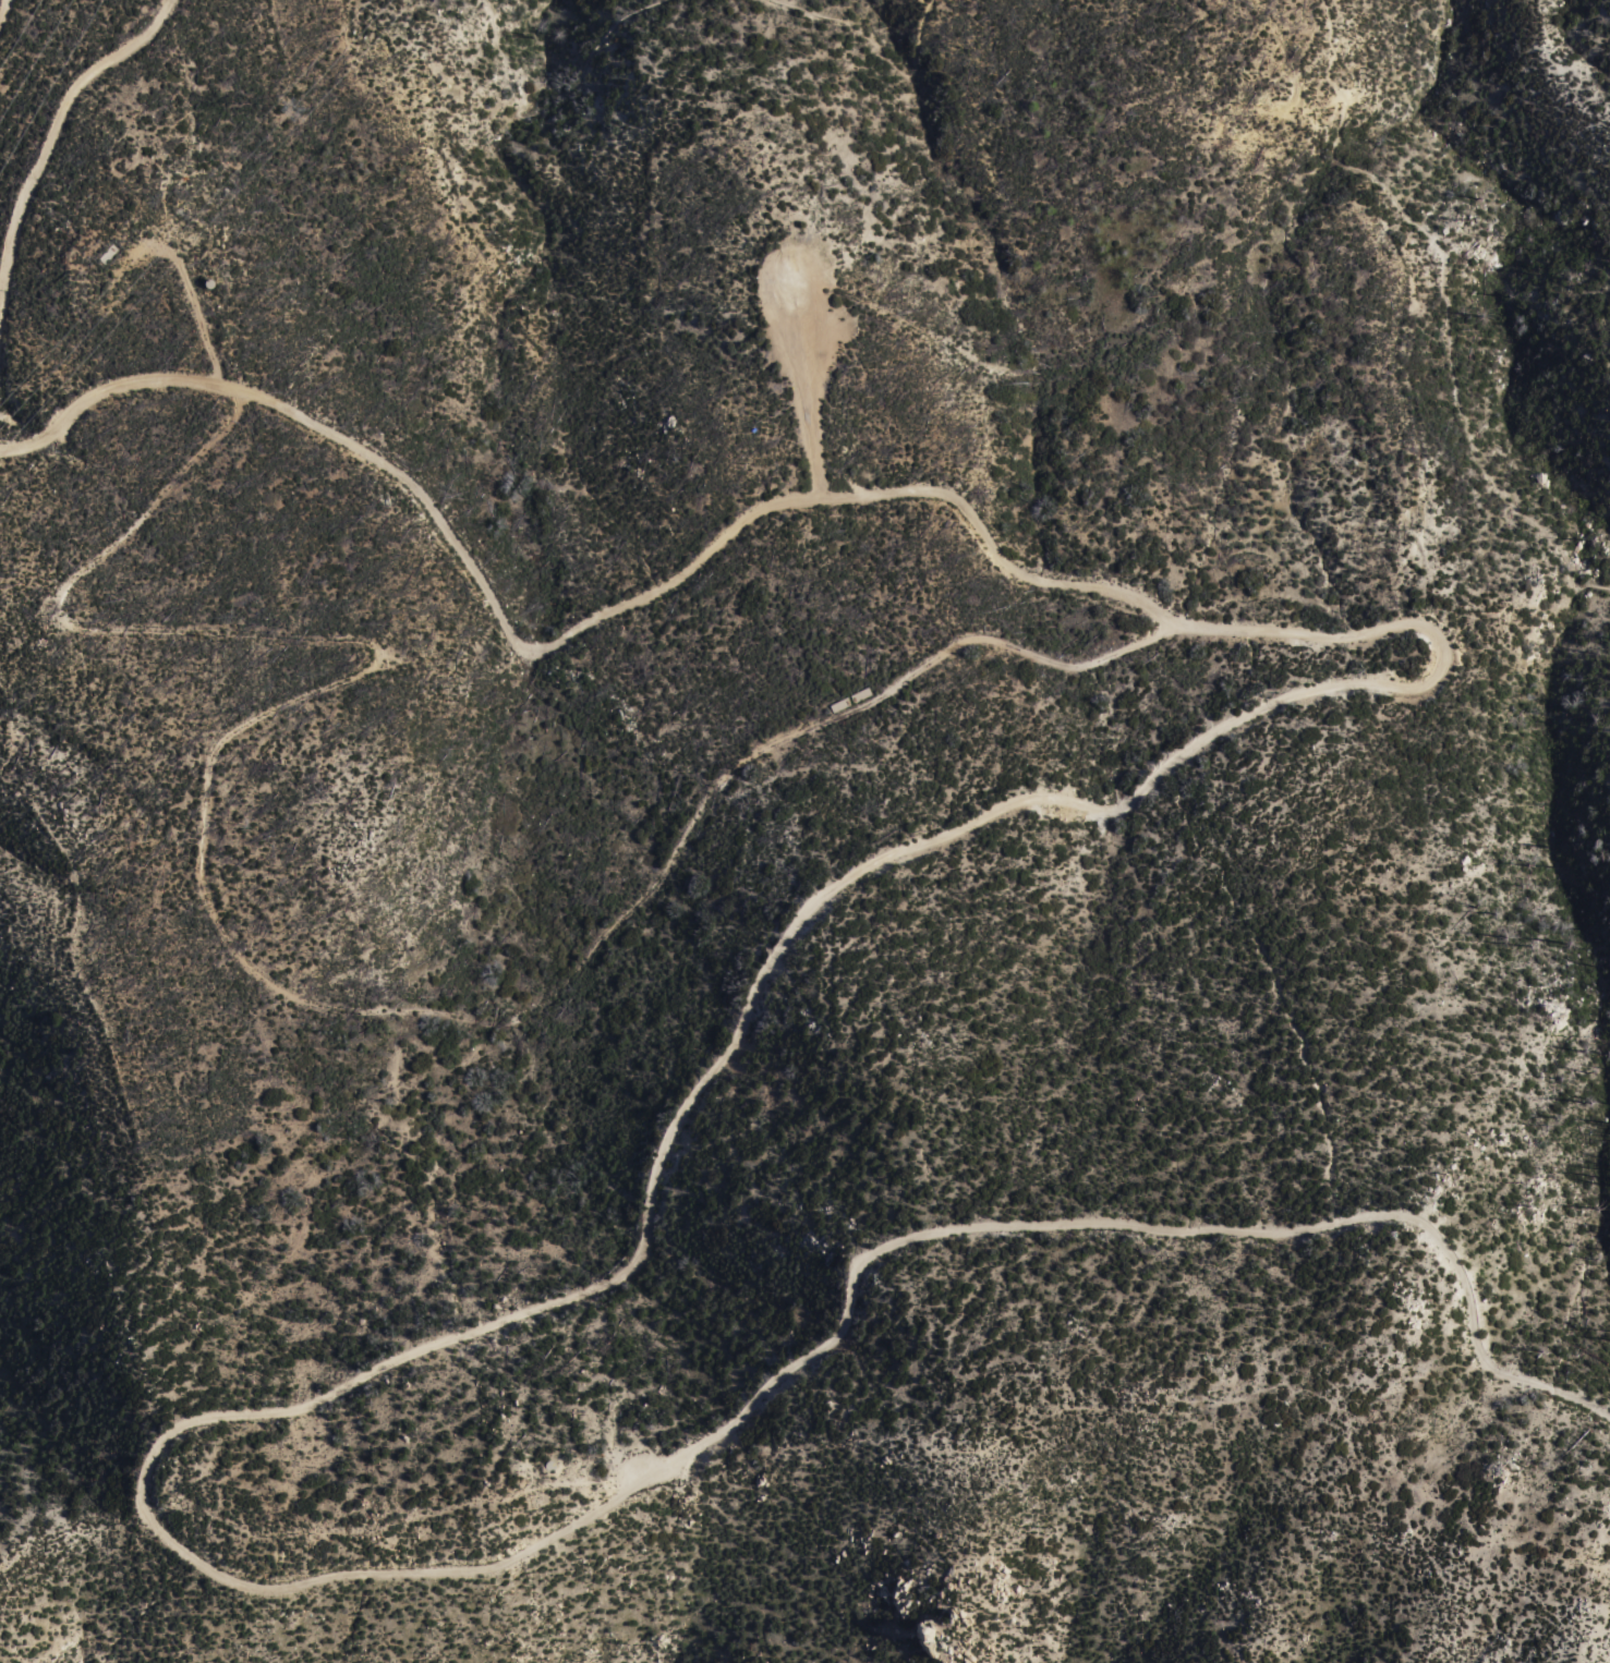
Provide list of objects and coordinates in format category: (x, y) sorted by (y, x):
road: (2, 8)
road: (881, 51)
road: (554, 97)
power tower: (295, 110)
road: (186, 131)
road: (51, 136)
road: (1158, 282)
road: (1449, 299)
helipad: (808, 303)
road: (196, 316)
road: (815, 425)
road: (259, 981)
road: (725, 1049)
road: (544, 1251)

